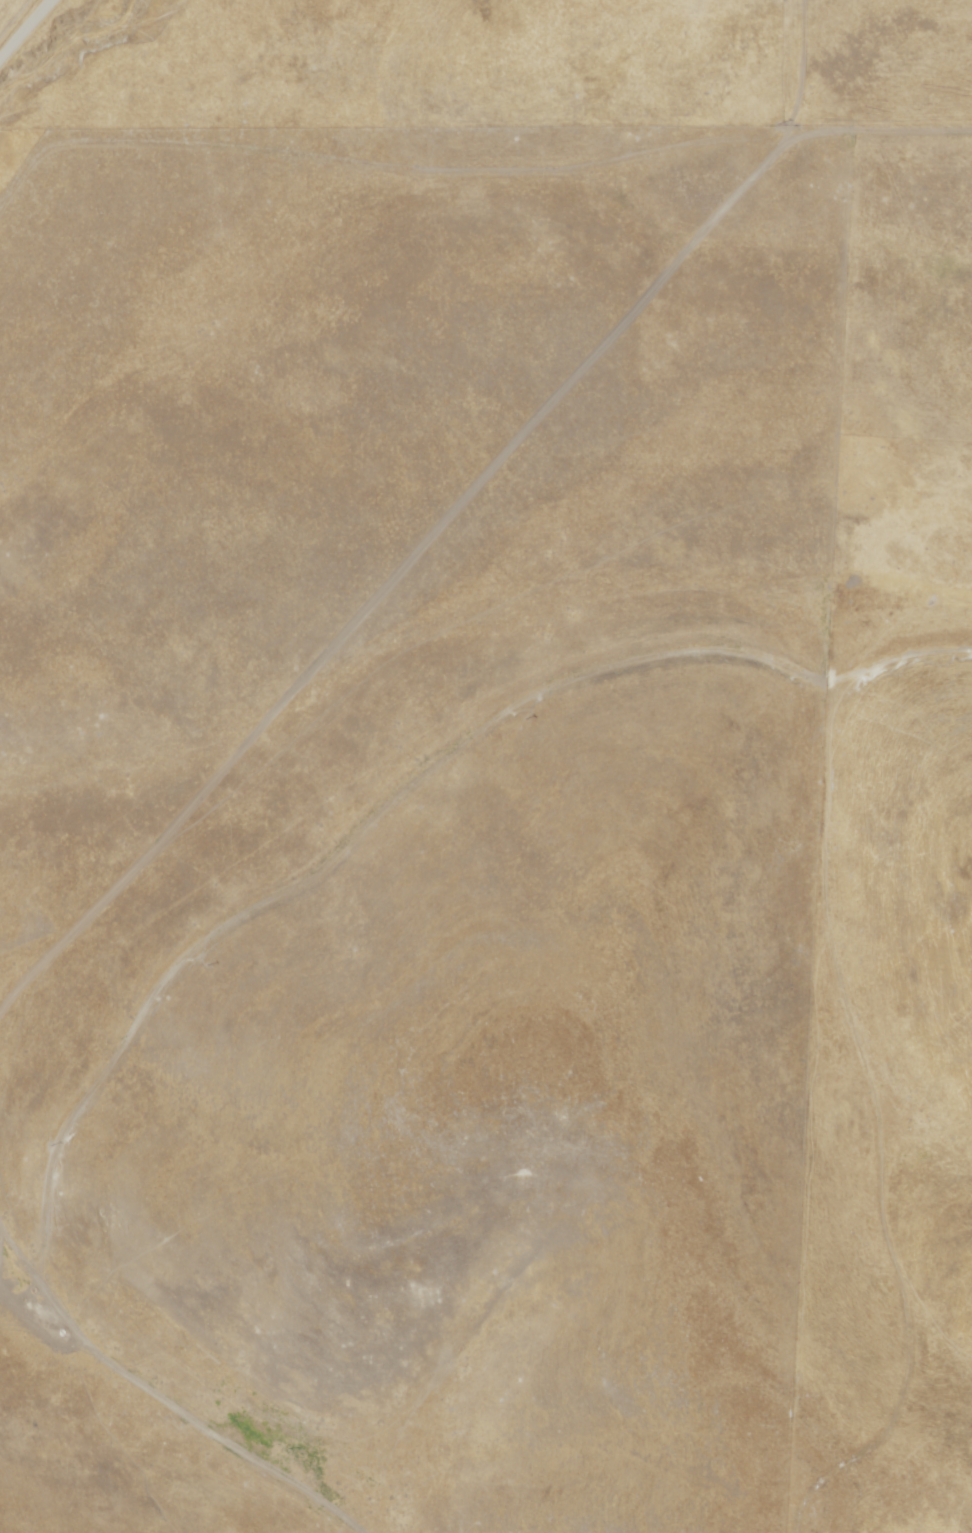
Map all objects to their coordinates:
road: (23, 0)
road: (12, 30)
road: (396, 757)
road: (162, 1411)

